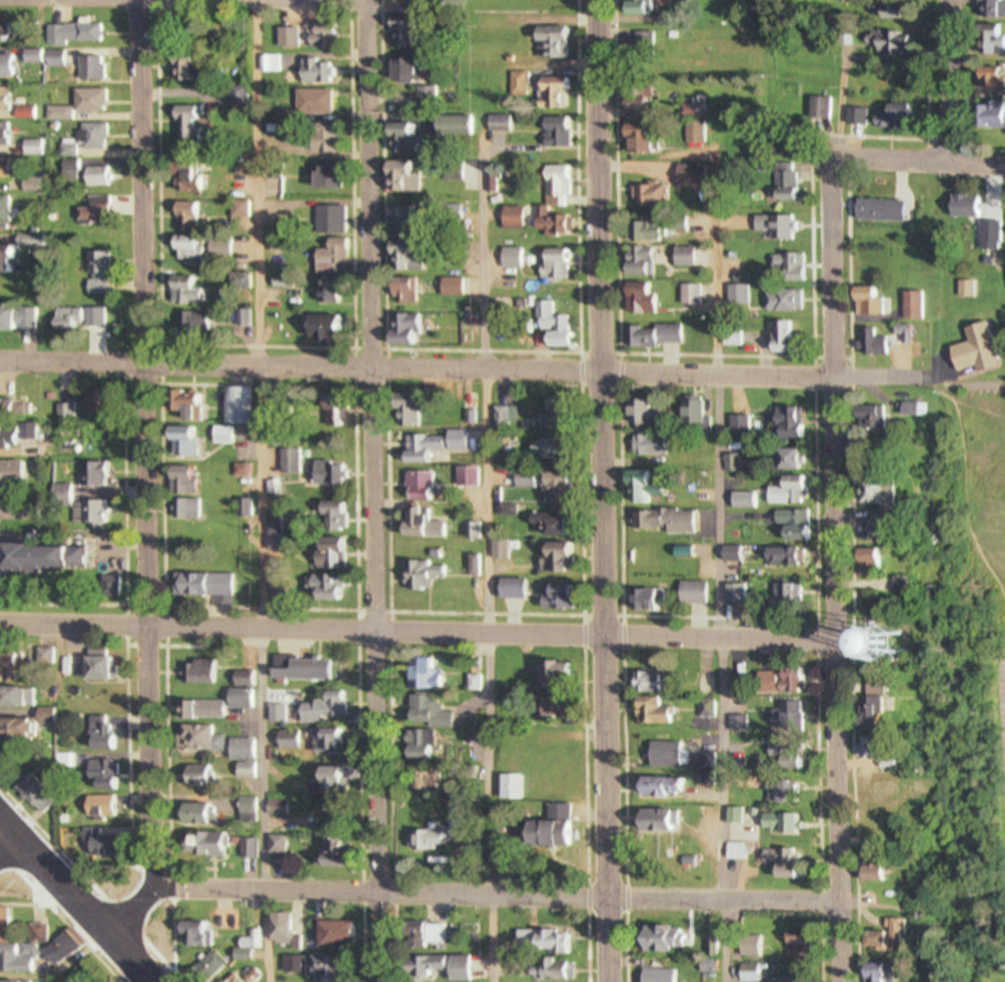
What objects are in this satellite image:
building: (647, 7)
building: (992, 8)
building: (7, 31)
building: (80, 33)
building: (555, 35)
building: (293, 36)
building: (1001, 42)
building: (648, 47)
building: (39, 55)
building: (11, 66)
building: (97, 68)
building: (415, 70)
building: (319, 71)
road: (952, 79)
building: (430, 96)
building: (643, 100)
building: (319, 101)
building: (17, 104)
building: (87, 104)
building: (496, 109)
building: (1000, 113)
building: (861, 115)
building: (897, 115)
building: (555, 119)
building: (196, 125)
building: (459, 125)
building: (8, 134)
building: (98, 136)
building: (647, 139)
building: (38, 147)
road: (920, 158)
building: (11, 168)
building: (333, 175)
building: (101, 176)
building: (192, 176)
building: (410, 176)
building: (662, 193)
building: (977, 206)
building: (892, 211)
building: (193, 216)
building: (413, 217)
building: (335, 220)
building: (659, 232)
building: (191, 249)
building: (408, 257)
building: (516, 257)
building: (688, 257)
building: (12, 260)
building: (334, 261)
building: (561, 264)
building: (648, 264)
building: (458, 286)
building: (183, 287)
building: (338, 290)
building: (413, 290)
building: (648, 295)
building: (206, 313)
building: (71, 317)
building: (20, 318)
building: (333, 326)
building: (412, 328)
building: (666, 334)
building: (893, 337)
building: (981, 350)
road: (467, 368)
building: (199, 407)
building: (345, 411)
building: (793, 415)
building: (700, 417)
building: (20, 426)
building: (235, 434)
building: (190, 436)
building: (657, 445)
building: (426, 453)
building: (791, 459)
building: (17, 471)
building: (332, 471)
building: (191, 480)
building: (423, 484)
road: (150, 487)
building: (647, 487)
road: (262, 490)
building: (791, 490)
road: (372, 491)
road: (601, 491)
building: (886, 493)
building: (196, 508)
building: (340, 513)
building: (790, 516)
building: (677, 520)
building: (423, 521)
building: (280, 541)
road: (487, 550)
building: (337, 551)
building: (739, 554)
building: (789, 556)
building: (53, 557)
road: (721, 566)
road: (842, 572)
building: (427, 573)
building: (328, 586)
building: (214, 587)
building: (518, 588)
building: (698, 591)
building: (566, 596)
building: (652, 599)
road: (421, 629)
building: (938, 645)
water tower: (893, 646)
building: (105, 665)
building: (308, 668)
building: (210, 671)
building: (654, 682)
building: (775, 682)
building: (707, 685)
park: (993, 687)
building: (248, 689)
building: (24, 697)
building: (216, 709)
building: (663, 710)
building: (437, 711)
building: (34, 725)
building: (98, 733)
building: (206, 738)
building: (294, 740)
building: (338, 742)
building: (249, 750)
building: (670, 754)
building: (895, 754)
building: (249, 769)
building: (205, 775)
building: (425, 778)
building: (891, 784)
building: (673, 786)
building: (40, 796)
parking lot: (993, 804)
building: (105, 806)
building: (204, 814)
building: (669, 821)
building: (790, 822)
building: (894, 823)
building: (561, 834)
building: (228, 844)
building: (887, 873)
road: (478, 896)
road: (79, 899)
building: (336, 933)
building: (434, 933)
building: (201, 934)
building: (250, 941)
building: (548, 941)
building: (676, 942)
building: (65, 949)
building: (15, 959)
building: (210, 963)
building: (456, 968)
building: (334, 969)
building: (892, 972)
building: (755, 973)
building: (666, 976)

